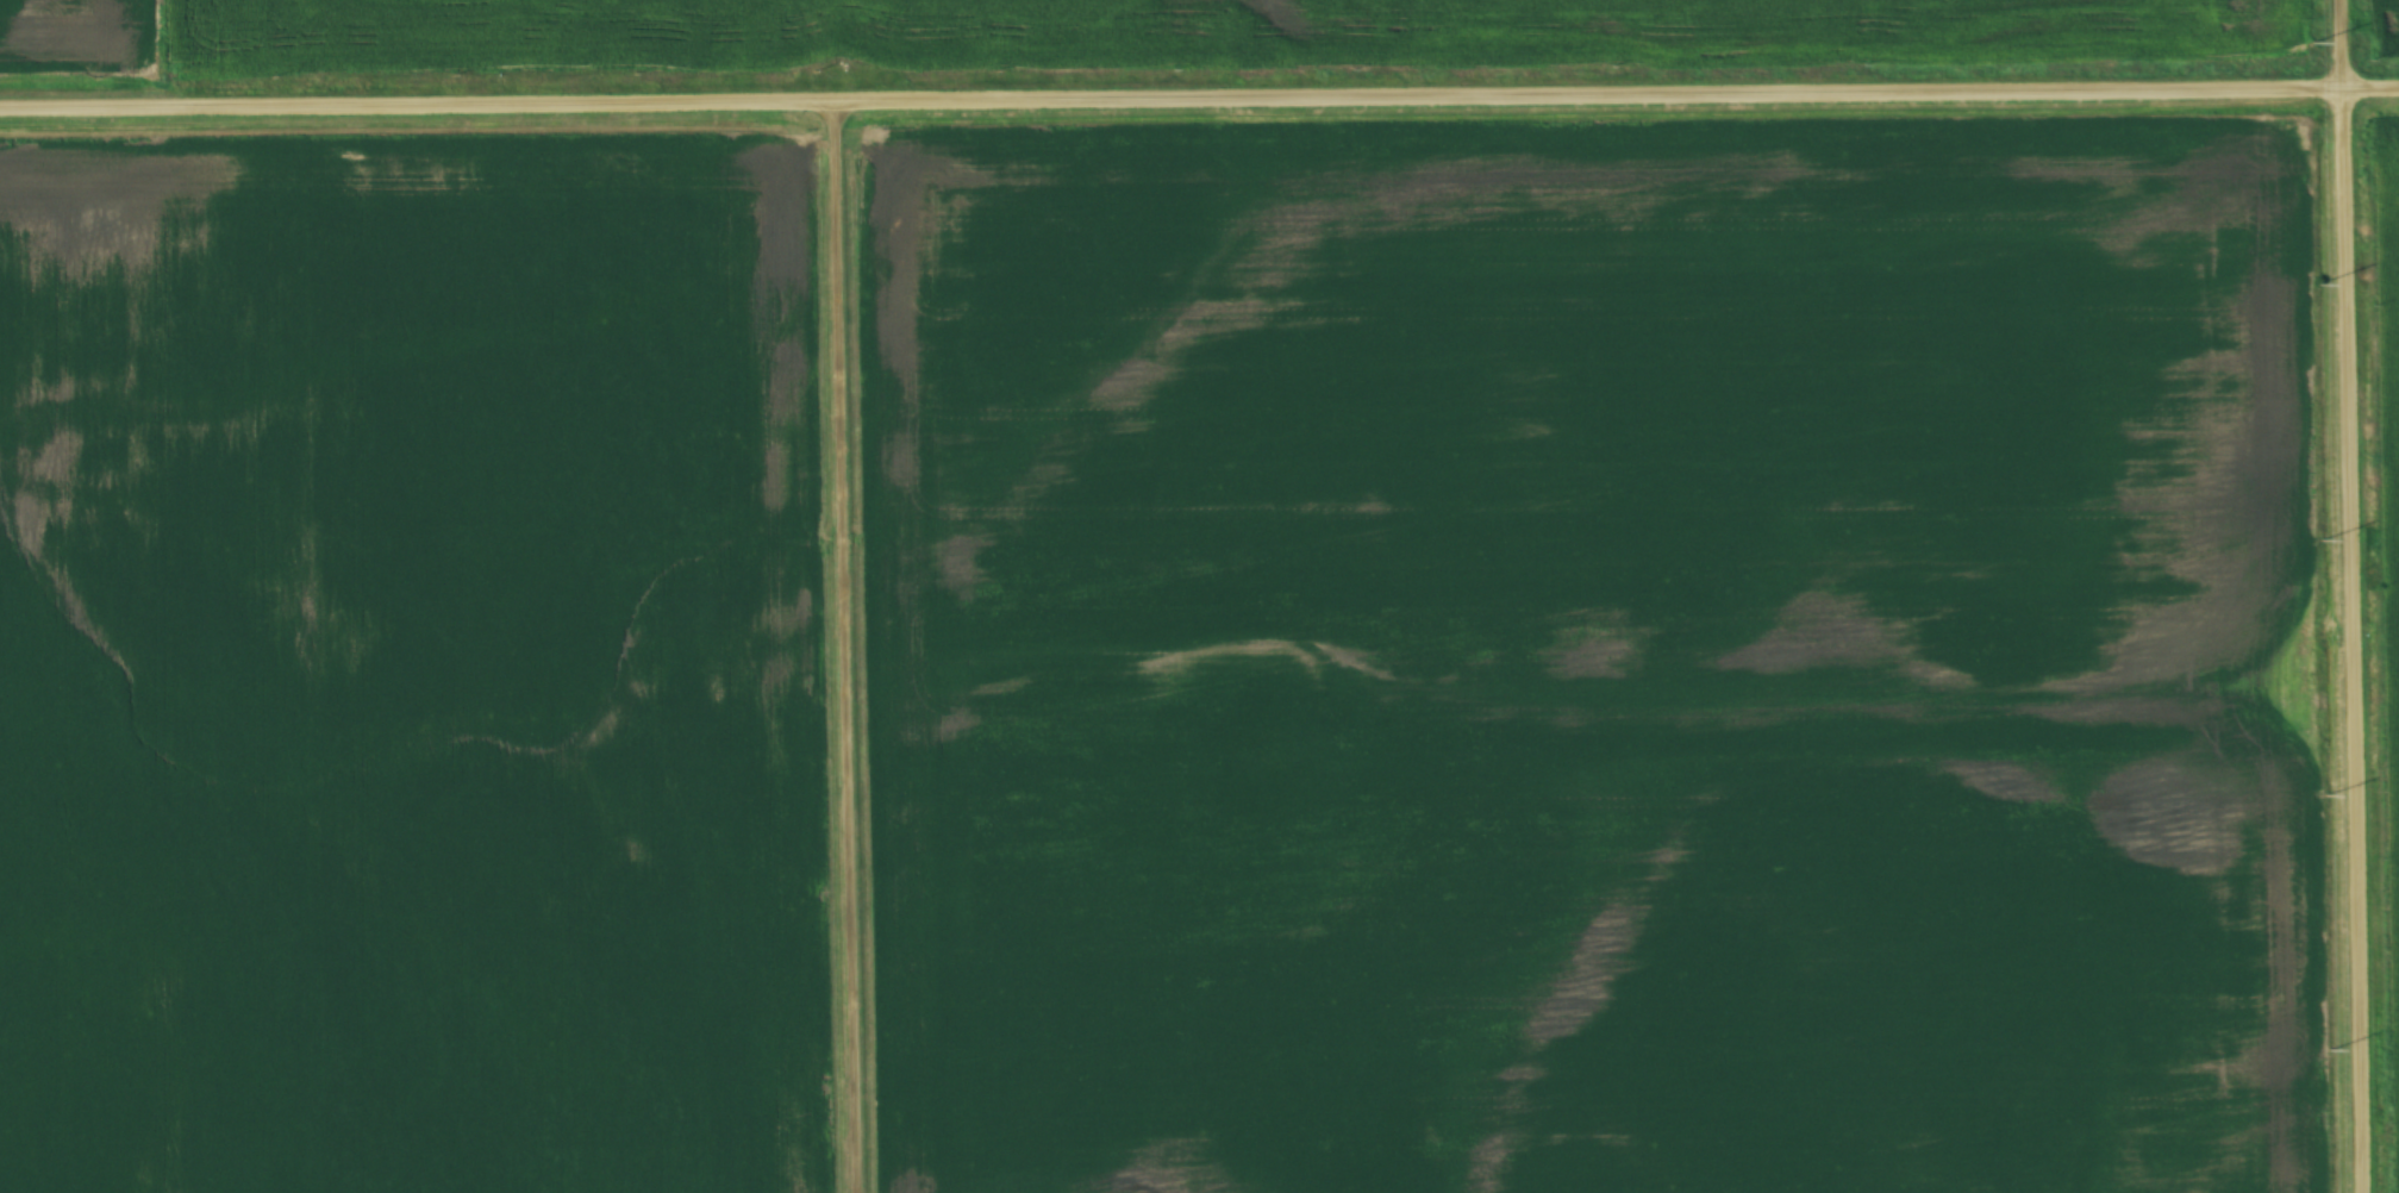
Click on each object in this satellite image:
road: (1199, 99)
road: (2348, 596)
road: (839, 647)

